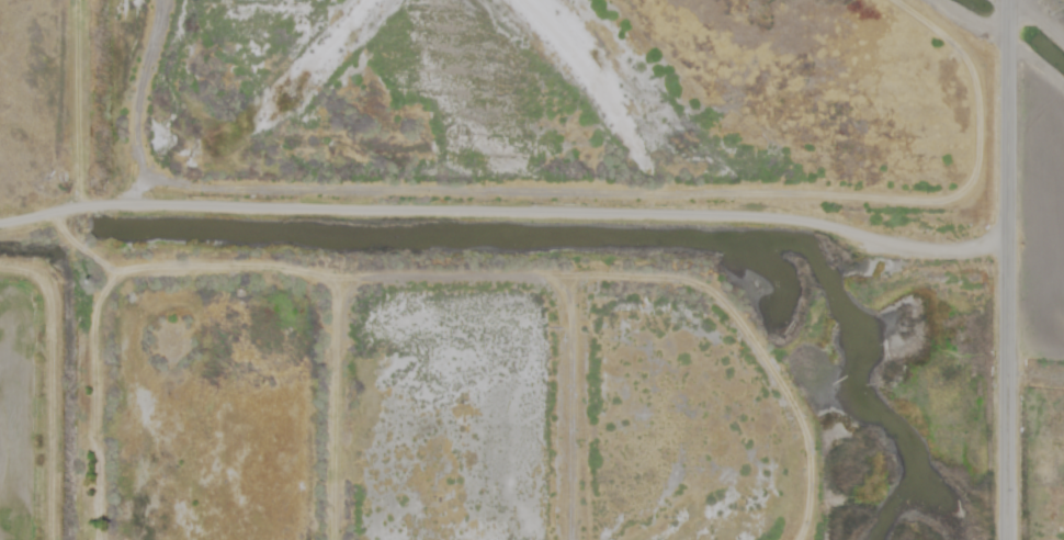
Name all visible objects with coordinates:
crop: (1032, 10)
road: (1000, 270)

